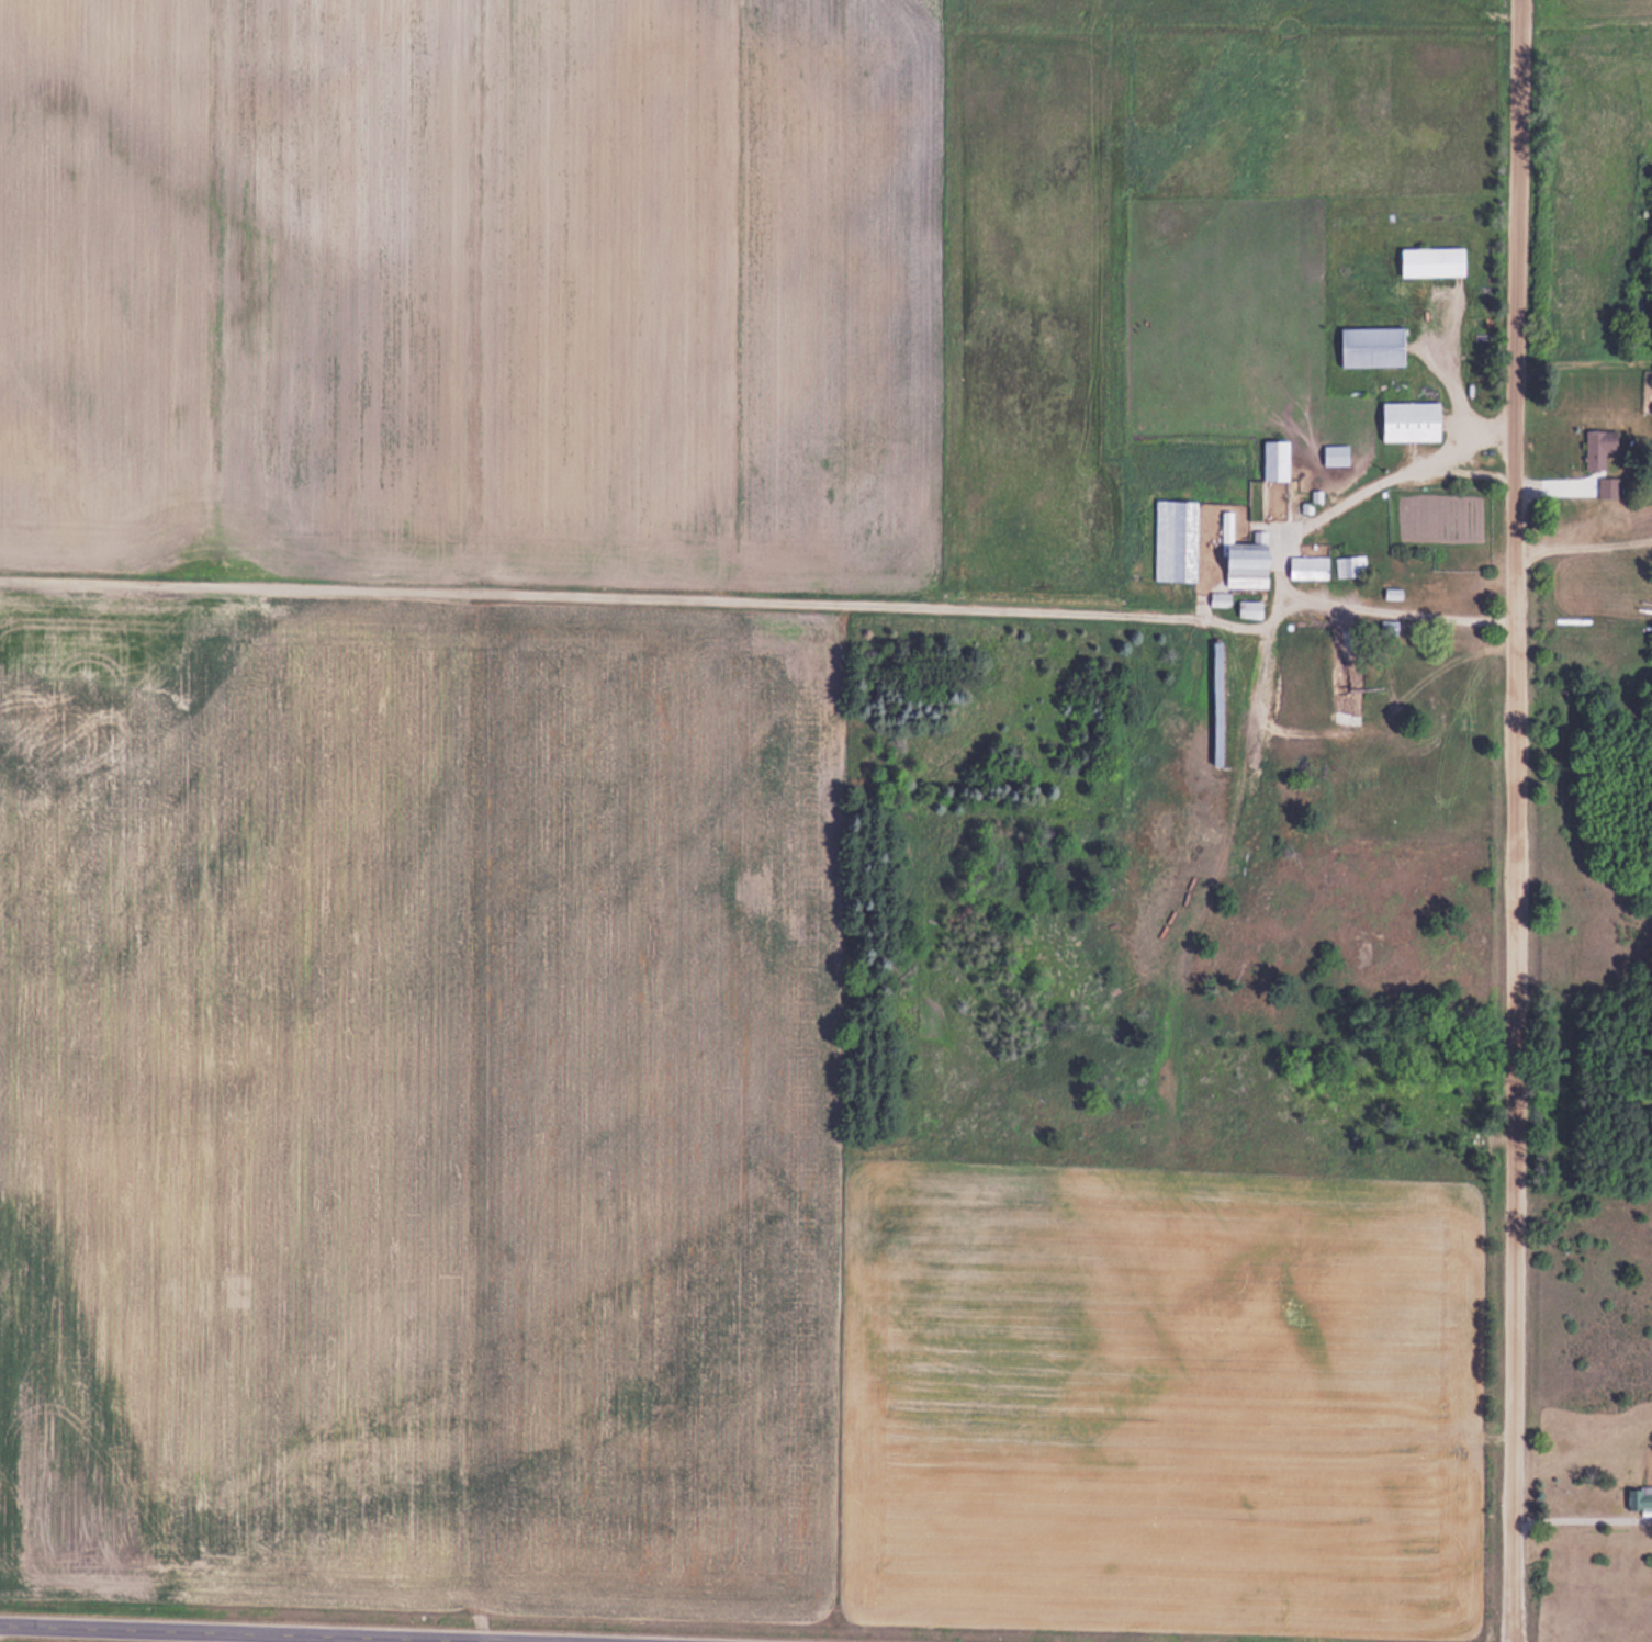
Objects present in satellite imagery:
building: (1434, 261)
building: (1373, 346)
building: (1412, 419)
building: (1599, 449)
building: (1335, 453)
building: (1274, 459)
building: (1605, 486)
building: (1175, 538)
building: (1248, 563)
building: (1347, 564)
building: (1307, 565)
building: (1432, 588)
road: (758, 591)
building: (1218, 598)
building: (1248, 608)
building: (1387, 626)
building: (1218, 701)
road: (1517, 821)
building: (1640, 1498)
road: (367, 1631)

